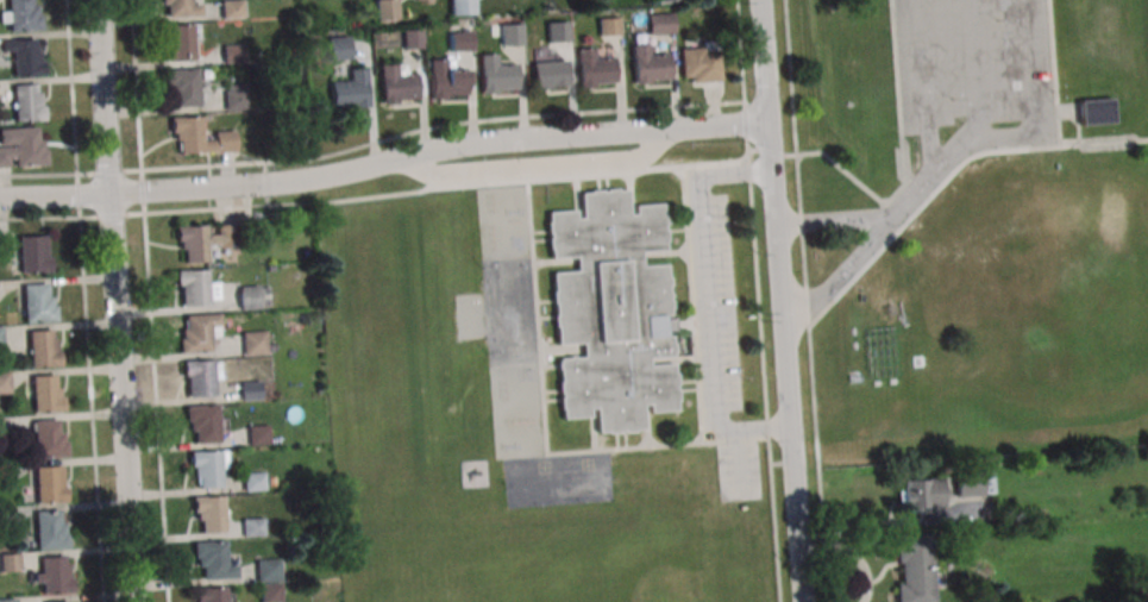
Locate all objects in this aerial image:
building: (426, 0)
building: (665, 0)
building: (181, 7)
building: (462, 7)
building: (231, 8)
building: (385, 10)
building: (20, 14)
building: (660, 23)
building: (608, 25)
building: (557, 31)
building: (510, 35)
building: (412, 38)
building: (459, 40)
building: (178, 42)
building: (339, 48)
building: (232, 52)
building: (24, 55)
road: (1035, 56)
road: (765, 61)
building: (648, 64)
building: (700, 64)
parking lot: (974, 64)
building: (595, 68)
road: (978, 69)
road: (1054, 73)
building: (495, 74)
building: (550, 74)
building: (446, 79)
building: (396, 80)
building: (183, 84)
road: (927, 87)
building: (349, 90)
road: (898, 92)
road: (103, 94)
building: (234, 96)
building: (26, 102)
road: (793, 106)
road: (1058, 111)
building: (1096, 111)
road: (1079, 127)
road: (1021, 134)
building: (202, 136)
road: (371, 142)
road: (438, 145)
building: (21, 146)
road: (767, 150)
road: (953, 152)
road: (540, 167)
road: (772, 174)
road: (949, 175)
road: (855, 180)
road: (55, 193)
road: (915, 195)
road: (375, 196)
road: (835, 220)
road: (802, 222)
park: (974, 224)
building: (193, 242)
building: (5, 247)
building: (33, 253)
building: (227, 253)
road: (804, 261)
road: (779, 265)
road: (843, 272)
building: (196, 287)
building: (253, 296)
road: (758, 300)
road: (84, 301)
road: (149, 301)
road: (708, 301)
building: (38, 302)
road: (808, 307)
building: (610, 309)
building: (199, 333)
building: (0, 337)
building: (255, 341)
building: (43, 347)
building: (201, 375)
building: (4, 382)
building: (250, 389)
building: (46, 393)
road: (123, 395)
building: (202, 420)
building: (0, 427)
building: (258, 434)
building: (49, 439)
road: (792, 453)
road: (820, 464)
building: (209, 465)
building: (5, 472)
building: (253, 481)
building: (49, 483)
building: (974, 483)
building: (921, 494)
building: (209, 512)
building: (4, 518)
road: (865, 523)
building: (252, 526)
building: (49, 529)
building: (212, 558)
building: (8, 562)
building: (915, 567)
building: (266, 569)
building: (52, 573)
building: (270, 592)
building: (215, 594)
building: (7, 600)
building: (64, 601)

